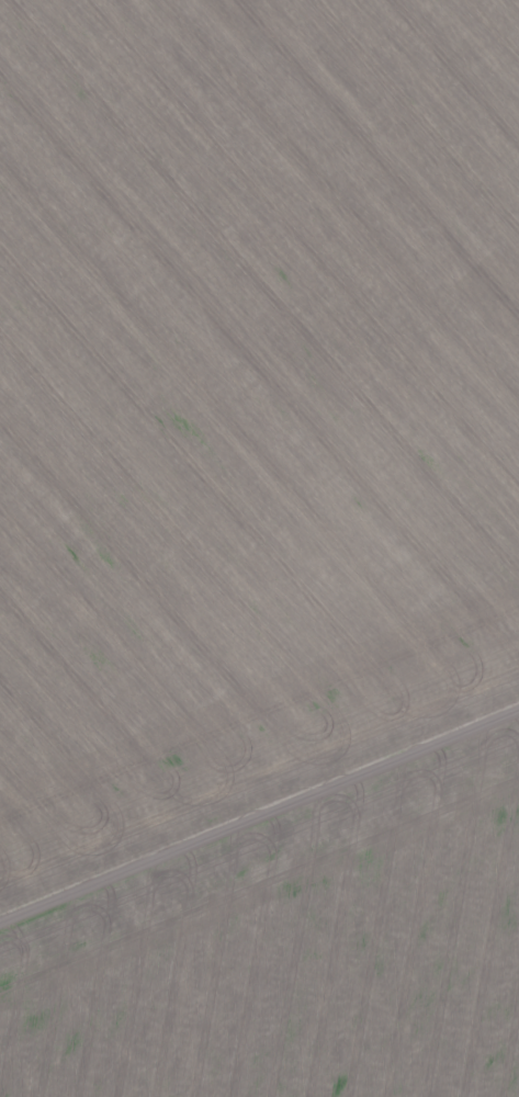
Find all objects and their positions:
road: (259, 817)

